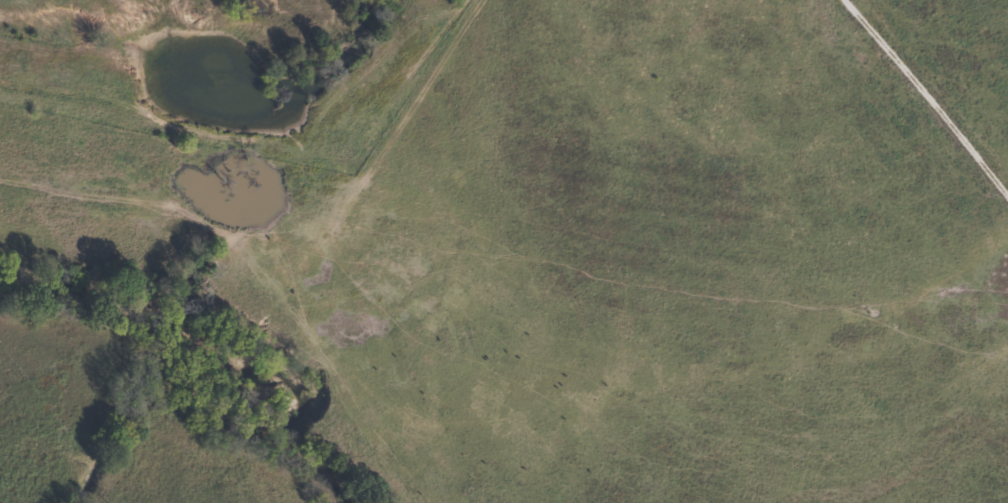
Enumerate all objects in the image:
road: (924, 108)

